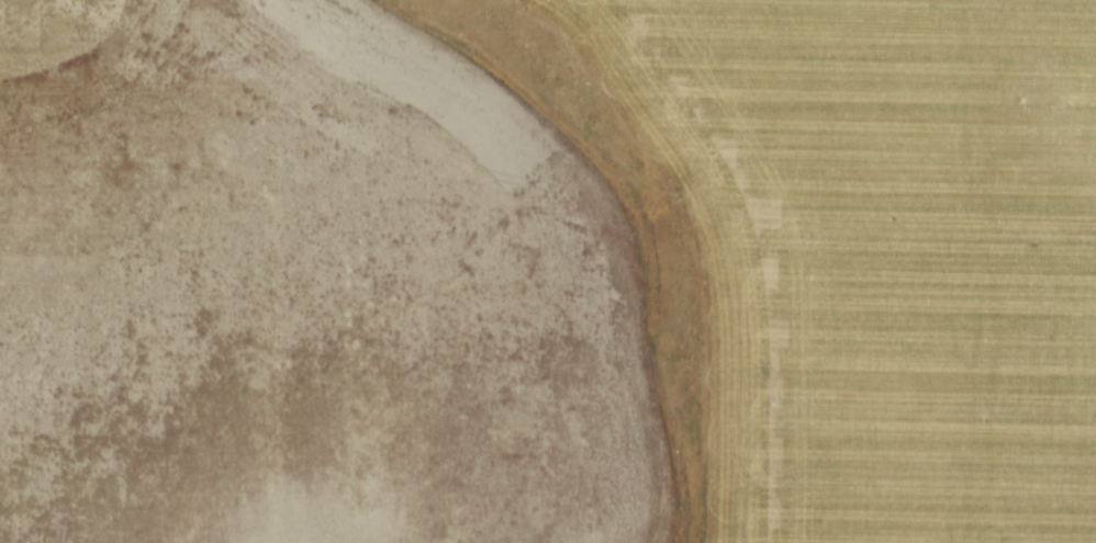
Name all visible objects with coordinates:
crop: (548, 271)

